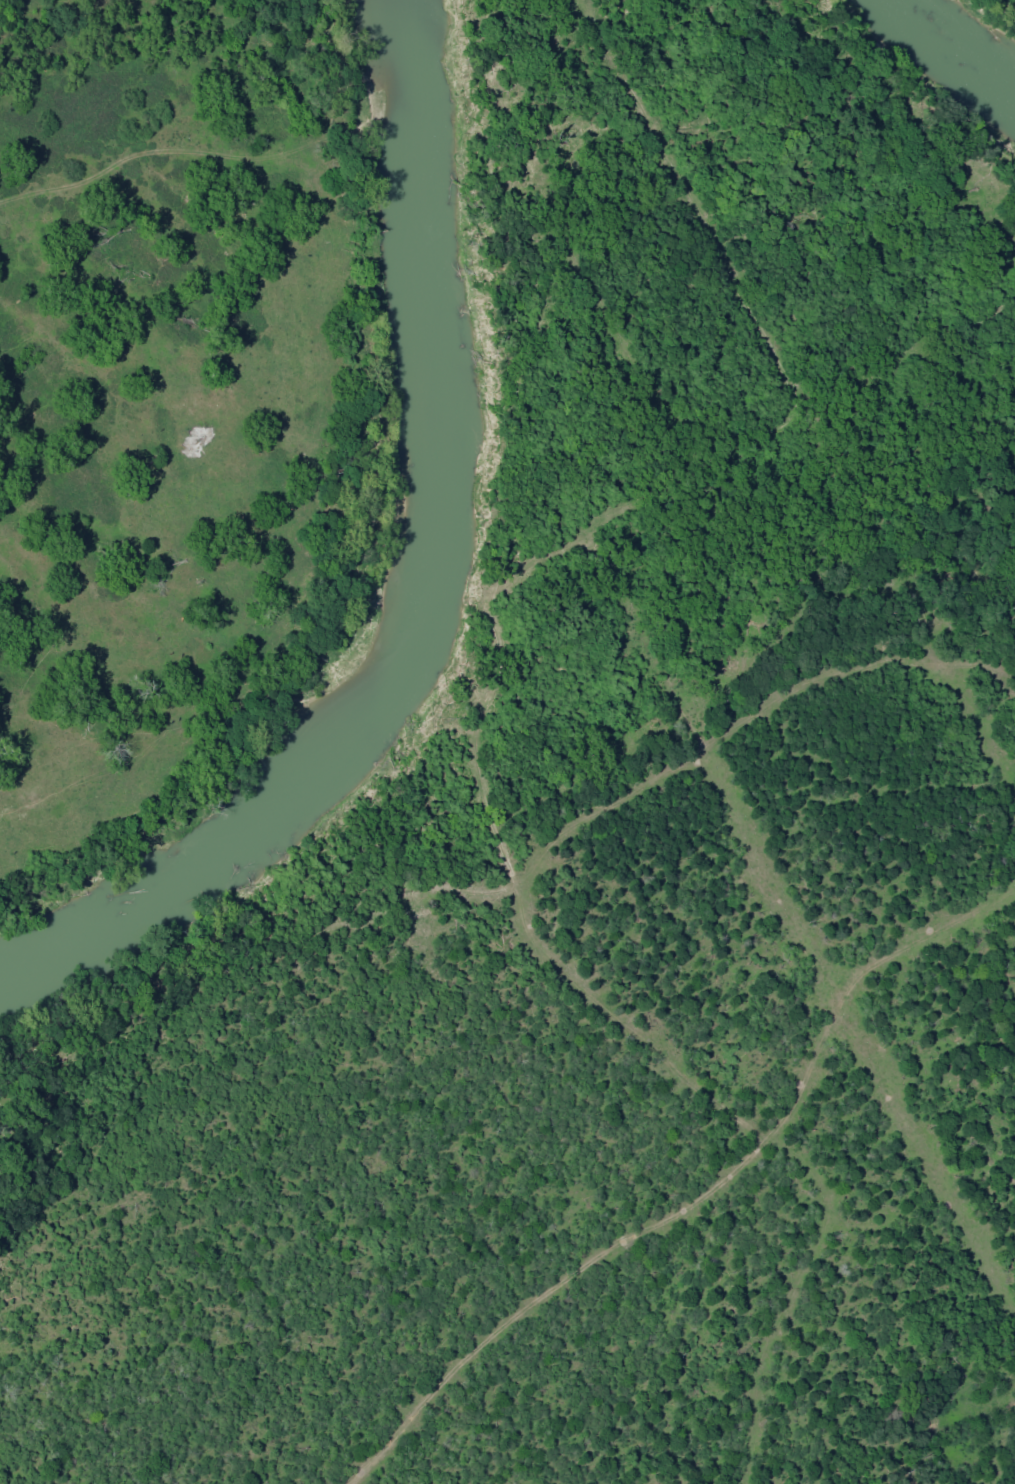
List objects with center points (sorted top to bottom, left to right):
river: (958, 38)
river: (414, 586)
road: (38, 859)

